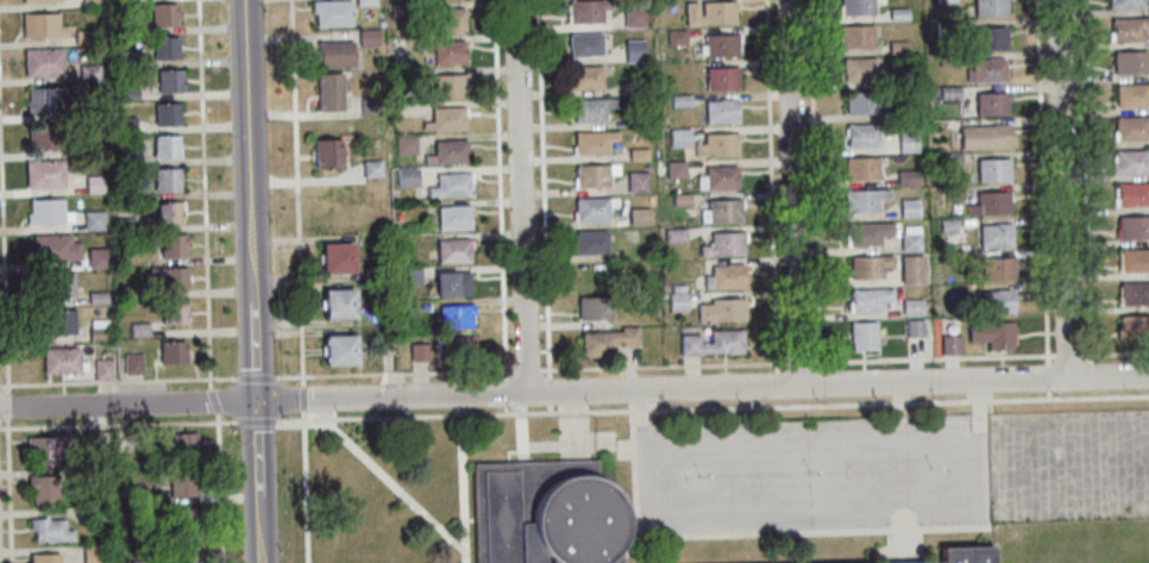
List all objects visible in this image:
building: (34, 0)
building: (944, 0)
building: (89, 2)
building: (365, 2)
building: (1125, 4)
building: (856, 6)
building: (988, 7)
building: (402, 10)
building: (586, 10)
building: (332, 12)
building: (164, 13)
building: (708, 13)
building: (897, 14)
building: (633, 15)
building: (448, 19)
building: (42, 25)
building: (123, 25)
building: (944, 30)
building: (1128, 30)
building: (84, 37)
building: (366, 37)
building: (674, 37)
building: (855, 37)
building: (988, 38)
building: (584, 43)
building: (720, 45)
building: (165, 48)
building: (896, 48)
building: (634, 50)
building: (448, 52)
building: (335, 54)
building: (124, 58)
building: (947, 60)
building: (43, 62)
building: (1129, 62)
building: (858, 69)
building: (88, 71)
building: (986, 71)
building: (403, 75)
building: (584, 77)
building: (720, 79)
building: (898, 79)
building: (169, 81)
building: (446, 85)
building: (635, 87)
building: (328, 90)
building: (947, 92)
building: (126, 94)
building: (1131, 95)
building: (44, 99)
building: (679, 100)
building: (861, 104)
building: (991, 104)
building: (370, 106)
building: (590, 108)
building: (415, 110)
building: (720, 111)
building: (903, 113)
building: (167, 114)
building: (445, 118)
building: (636, 120)
building: (125, 125)
building: (1130, 129)
building: (864, 135)
building: (43, 137)
building: (677, 137)
building: (984, 137)
building: (909, 139)
building: (592, 142)
building: (404, 144)
building: (716, 145)
building: (165, 146)
building: (448, 152)
building: (326, 154)
building: (638, 154)
building: (128, 158)
building: (949, 158)
building: (1129, 161)
building: (646, 167)
building: (371, 168)
building: (673, 169)
building: (860, 169)
building: (992, 170)
building: (44, 174)
building: (594, 174)
building: (407, 177)
building: (720, 177)
building: (905, 177)
road: (1084, 177)
building: (165, 180)
building: (638, 182)
building: (93, 184)
building: (450, 186)
road: (1062, 188)
building: (953, 192)
road: (772, 193)
road: (791, 193)
road: (815, 193)
building: (1131, 194)
road: (545, 195)
road: (520, 196)
road: (500, 198)
building: (679, 199)
road: (251, 200)
building: (862, 200)
road: (1042, 201)
building: (988, 204)
building: (592, 207)
building: (908, 208)
building: (45, 211)
building: (169, 212)
building: (720, 212)
building: (452, 217)
building: (638, 217)
building: (94, 220)
building: (124, 224)
building: (947, 225)
building: (1134, 227)
building: (867, 232)
building: (673, 234)
building: (994, 236)
building: (910, 238)
building: (589, 242)
building: (172, 244)
building: (722, 244)
building: (55, 249)
building: (453, 251)
building: (339, 257)
building: (98, 258)
building: (1135, 259)
building: (868, 265)
building: (997, 268)
building: (911, 269)
building: (372, 273)
building: (596, 275)
building: (170, 276)
building: (410, 276)
building: (723, 276)
road: (300, 281)
road: (207, 282)
building: (452, 282)
building: (57, 286)
building: (132, 292)
building: (1134, 293)
building: (98, 298)
building: (676, 299)
building: (869, 299)
building: (997, 301)
building: (340, 302)
building: (594, 307)
building: (911, 307)
building: (720, 309)
building: (174, 313)
building: (456, 315)
building: (56, 323)
building: (98, 324)
building: (1134, 326)
building: (913, 327)
building: (138, 330)
road: (6, 333)
building: (98, 333)
building: (992, 333)
building: (862, 336)
building: (608, 339)
building: (711, 343)
building: (949, 344)
building: (458, 348)
building: (340, 350)
building: (419, 351)
building: (171, 352)
building: (62, 359)
building: (132, 364)
building: (103, 368)
road: (726, 368)
road: (151, 383)
road: (837, 384)
road: (263, 400)
traffic signals: (256, 401)
road: (573, 414)
building: (96, 440)
building: (178, 444)
building: (48, 449)
road: (929, 449)
road: (691, 456)
building: (96, 477)
building: (183, 481)
road: (257, 481)
building: (43, 489)
building: (134, 493)
building: (87, 513)
building: (546, 514)
building: (184, 518)
building: (50, 530)
building: (93, 553)
building: (183, 553)
building: (969, 555)
building: (44, 558)
building: (137, 562)

